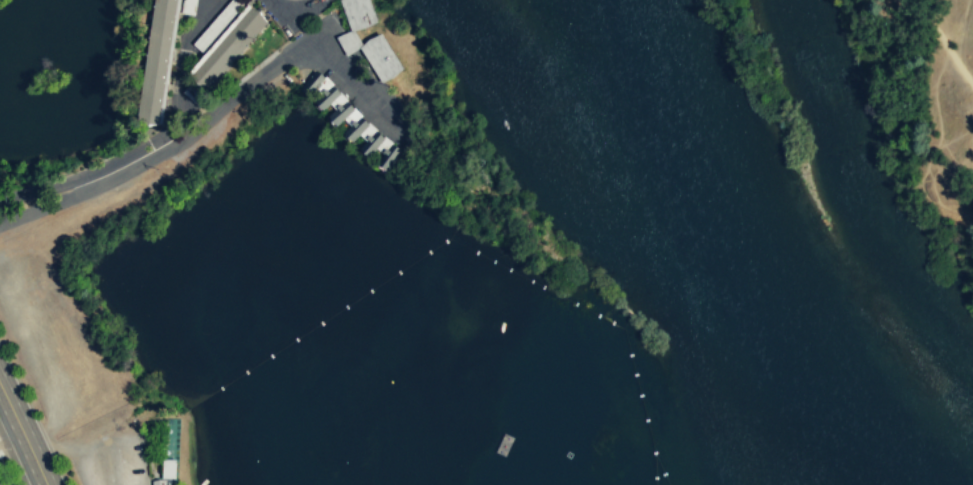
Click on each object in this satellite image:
road: (942, 38)
building: (348, 42)
building: (229, 48)
building: (157, 63)
park: (923, 109)
road: (214, 113)
building: (350, 119)
road: (150, 141)
river: (753, 259)
road: (23, 434)
parking lot: (113, 460)
building: (168, 468)
road: (112, 469)
building: (158, 482)

